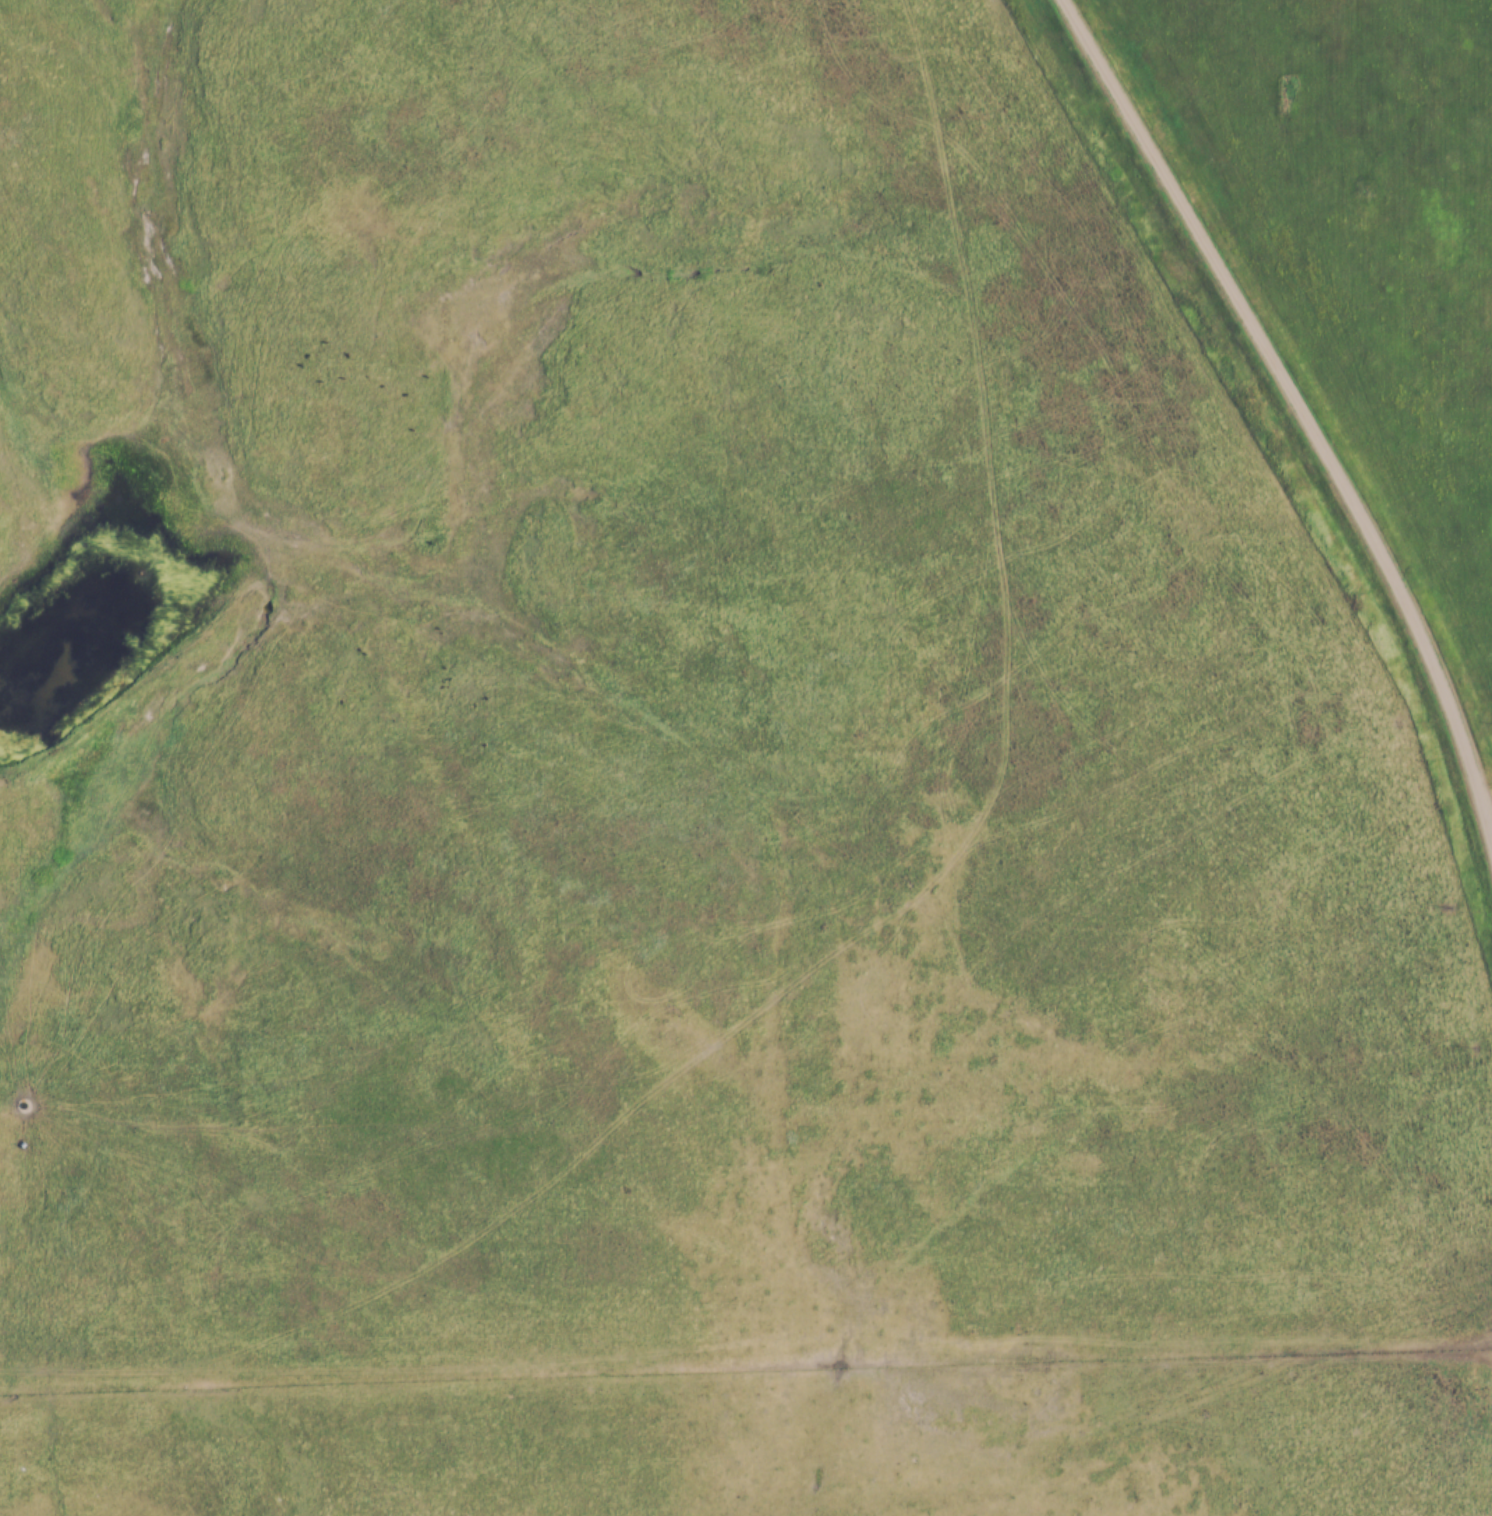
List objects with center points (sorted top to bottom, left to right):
road: (1299, 406)

